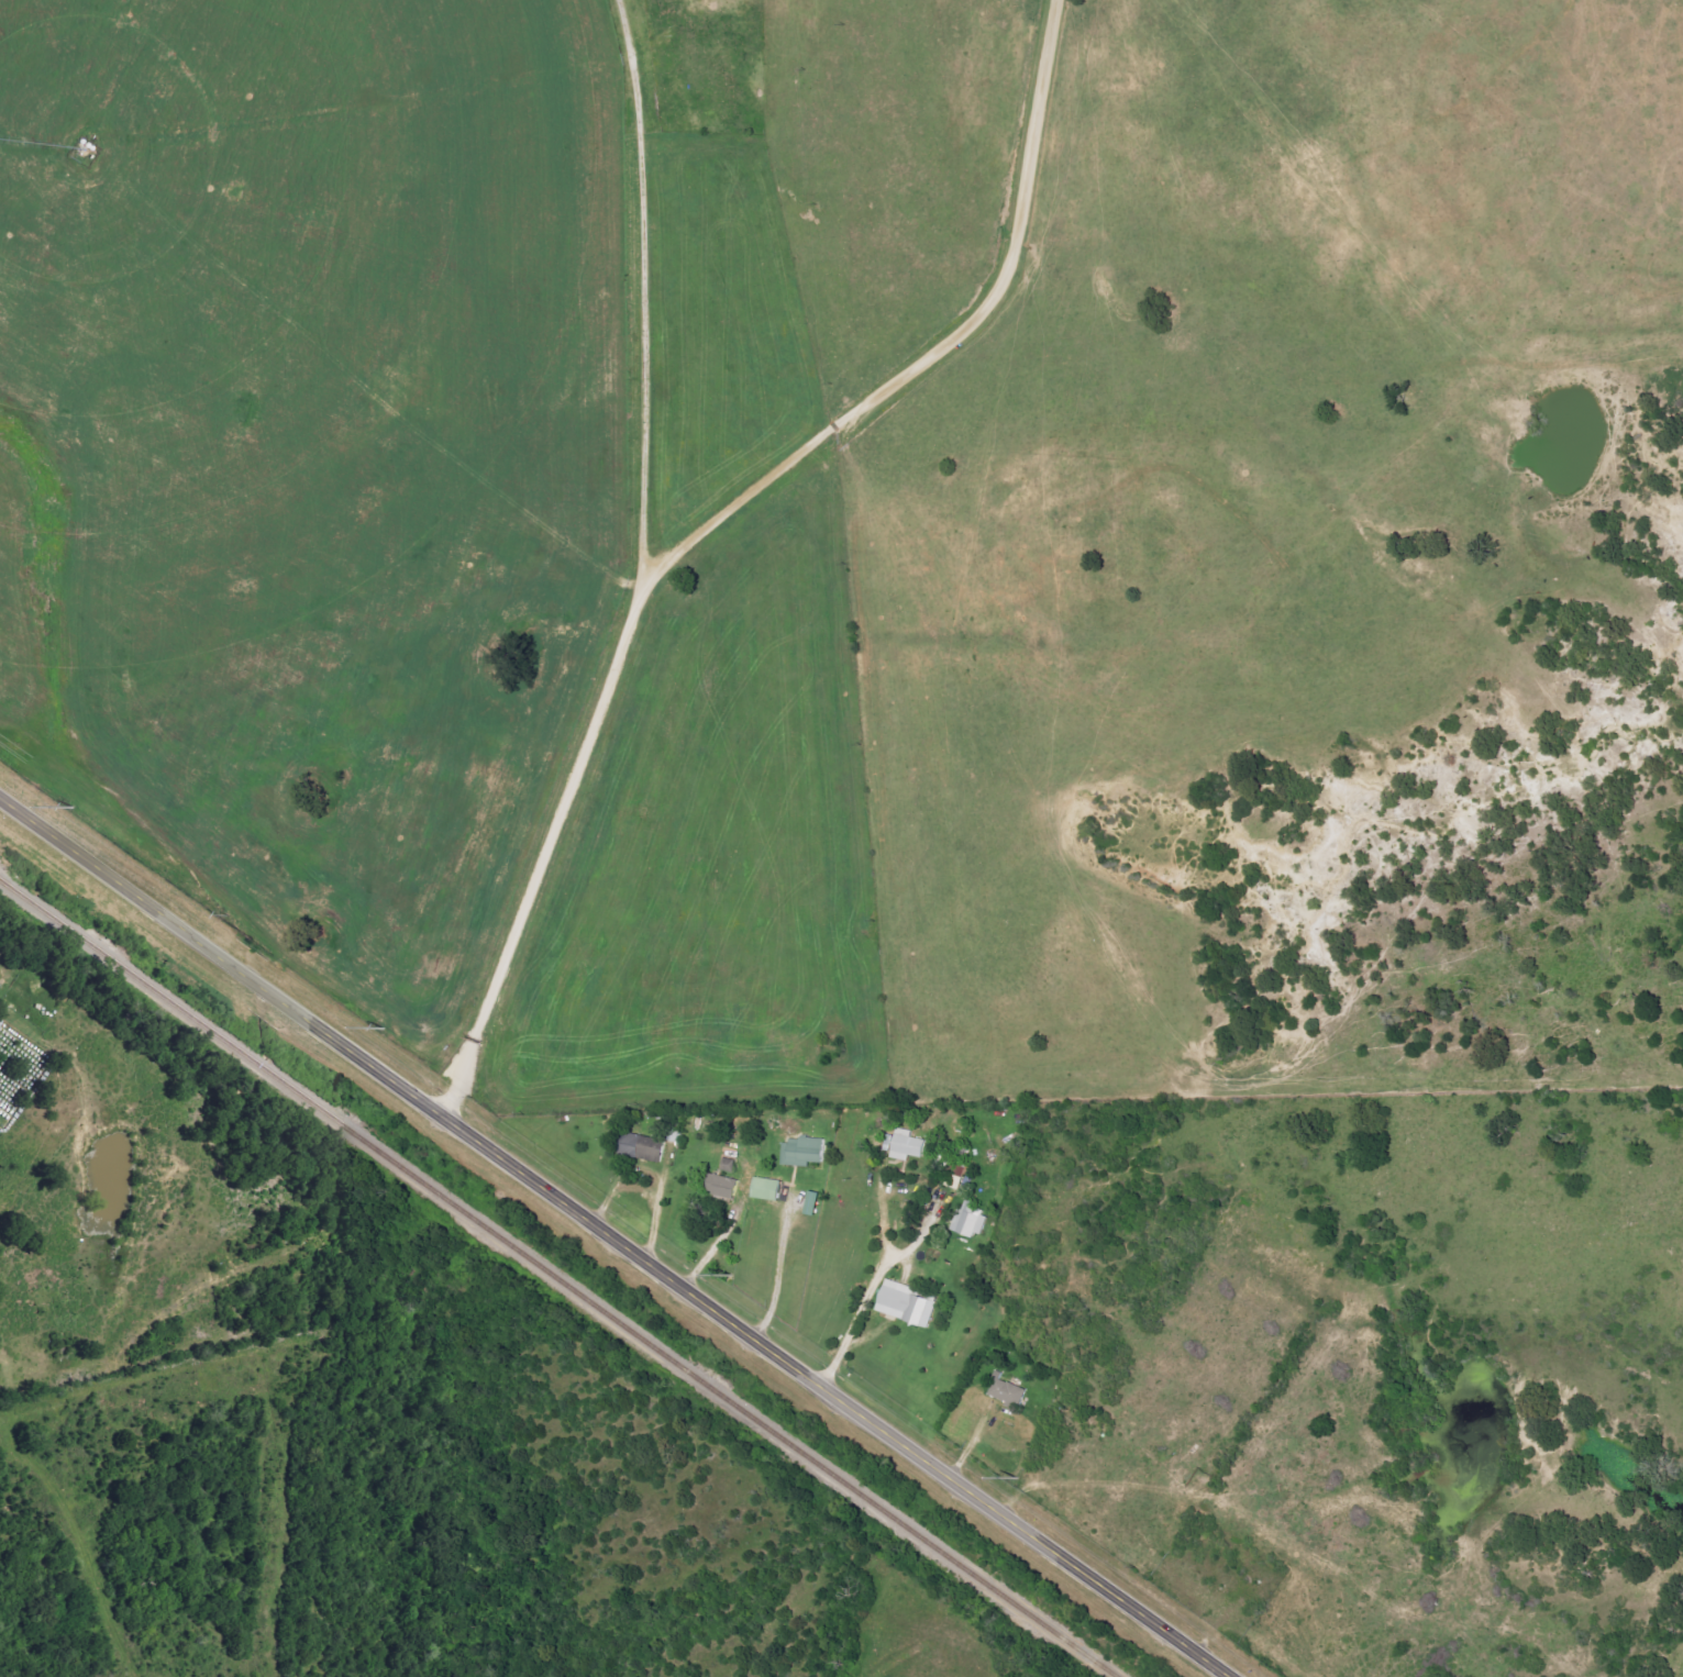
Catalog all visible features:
road: (718, 522)
power tower: (75, 808)
power tower: (385, 1029)
building: (674, 1135)
building: (908, 1146)
building: (642, 1148)
building: (802, 1153)
building: (960, 1169)
building: (721, 1187)
building: (766, 1190)
building: (971, 1221)
road: (613, 1237)
power tower: (732, 1276)
road: (777, 1276)
railway: (558, 1281)
road: (871, 1291)
building: (905, 1304)
building: (1007, 1393)
power tower: (1018, 1478)

